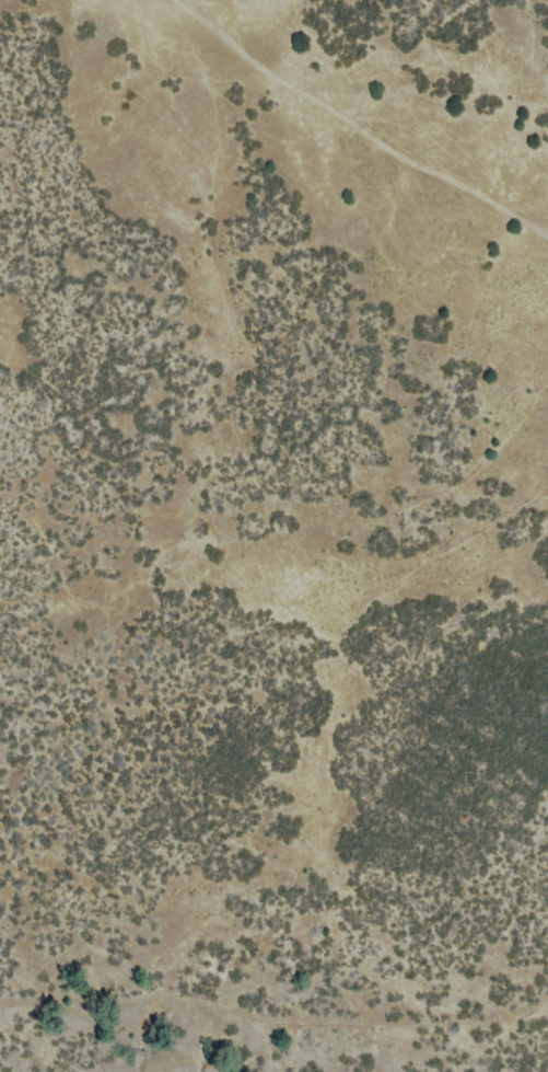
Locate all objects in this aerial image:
road: (275, 1016)

